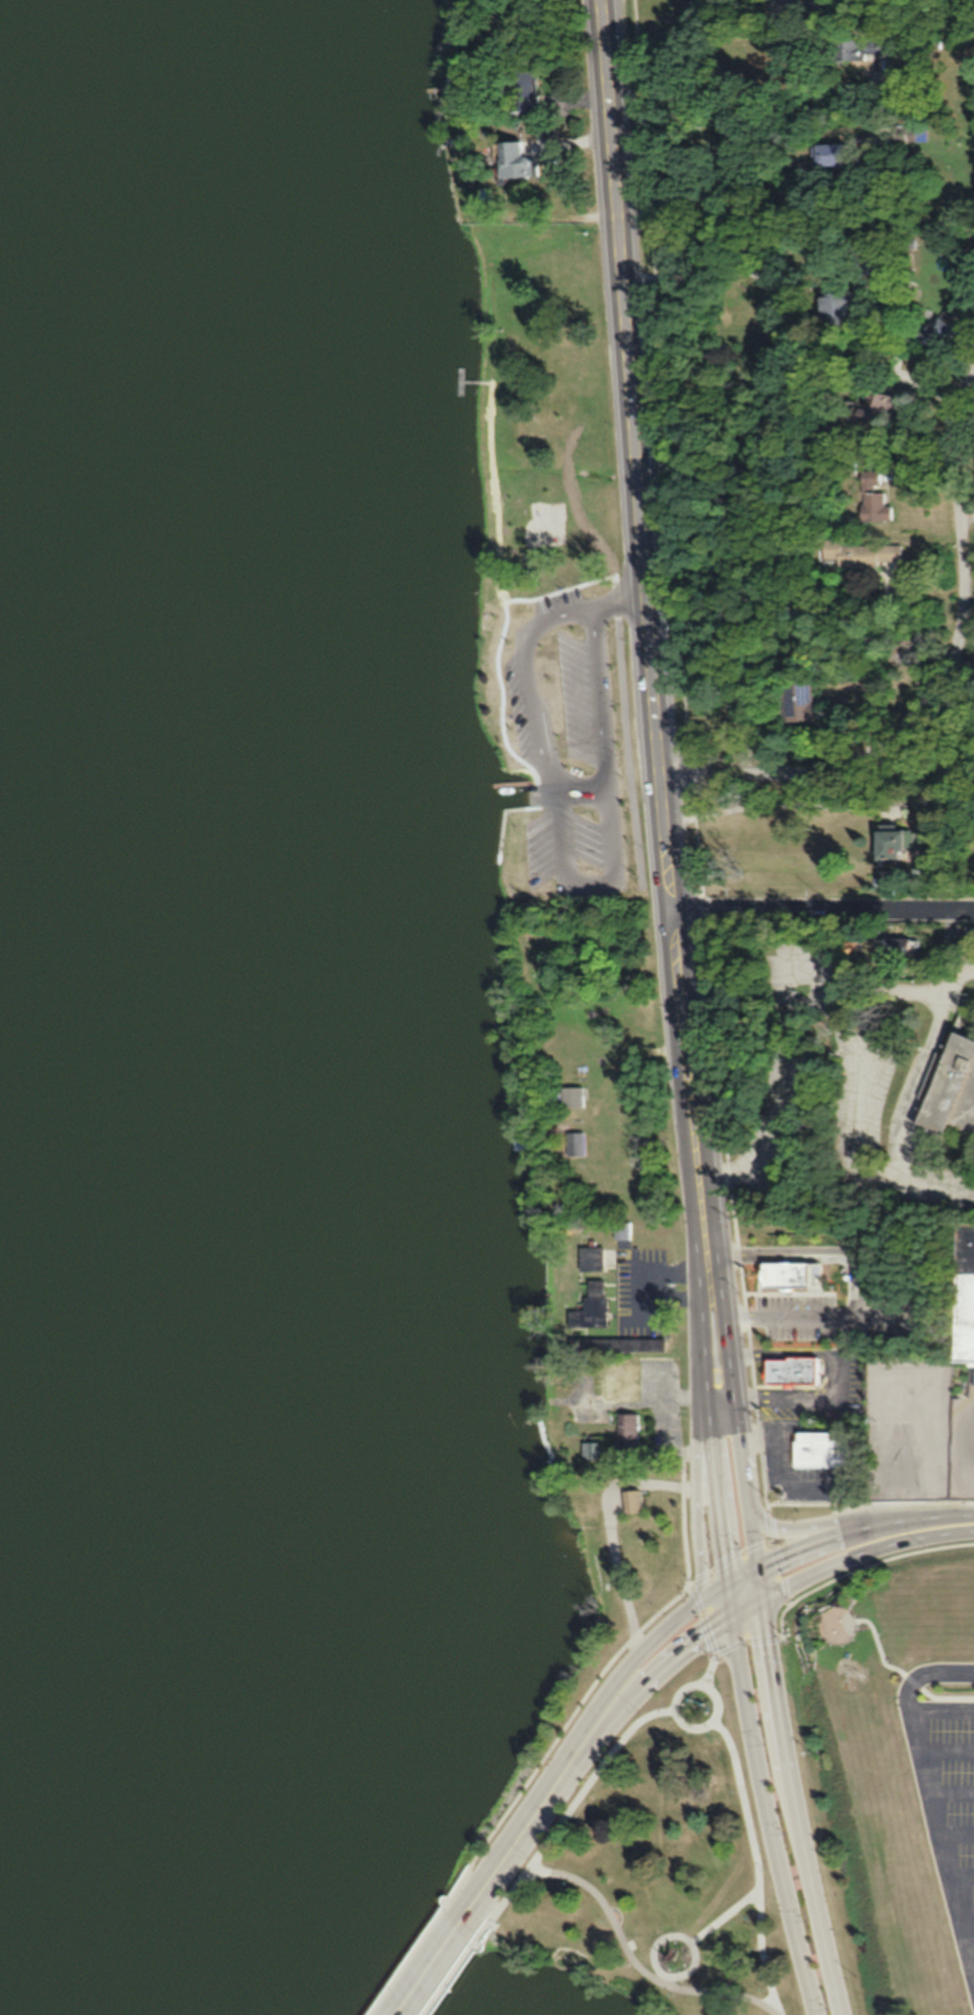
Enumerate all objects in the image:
road: (747, 93)
building: (828, 154)
building: (516, 164)
road: (781, 204)
building: (865, 265)
building: (835, 308)
building: (939, 329)
building: (870, 408)
building: (873, 498)
building: (857, 554)
road: (651, 629)
road: (942, 681)
building: (795, 702)
park: (567, 717)
road: (918, 760)
road: (597, 779)
building: (890, 843)
road: (823, 904)
building: (888, 945)
building: (943, 1082)
building: (572, 1095)
river: (167, 1102)
building: (965, 1106)
building: (575, 1143)
building: (624, 1220)
building: (621, 1229)
building: (593, 1248)
road: (808, 1250)
road: (654, 1267)
building: (787, 1274)
building: (967, 1281)
parking lot: (642, 1284)
building: (593, 1297)
road: (817, 1313)
road: (845, 1332)
building: (635, 1336)
building: (621, 1344)
road: (786, 1350)
building: (794, 1367)
building: (615, 1378)
road: (810, 1393)
road: (647, 1396)
building: (630, 1424)
road: (667, 1434)
road: (707, 1437)
building: (594, 1439)
building: (828, 1442)
building: (590, 1449)
building: (635, 1491)
building: (629, 1500)
road: (696, 1505)
road: (827, 1521)
road: (613, 1530)
road: (793, 1553)
road: (846, 1557)
traffic signals: (756, 1569)
traffic signals: (725, 1583)
traffic signals: (761, 1599)
traffic signals: (729, 1617)
road: (765, 1637)
road: (688, 1640)
road: (940, 1700)
road: (944, 1742)
road: (554, 1782)
road: (950, 1785)
road: (740, 1789)
road: (928, 1794)
road: (768, 1816)
road: (955, 1824)
road: (528, 1867)
park: (657, 1867)
road: (960, 1867)
road: (965, 1906)
road: (723, 1908)
road: (633, 1952)
road: (971, 1953)
road: (656, 1955)
road: (434, 1963)
road: (661, 1968)

